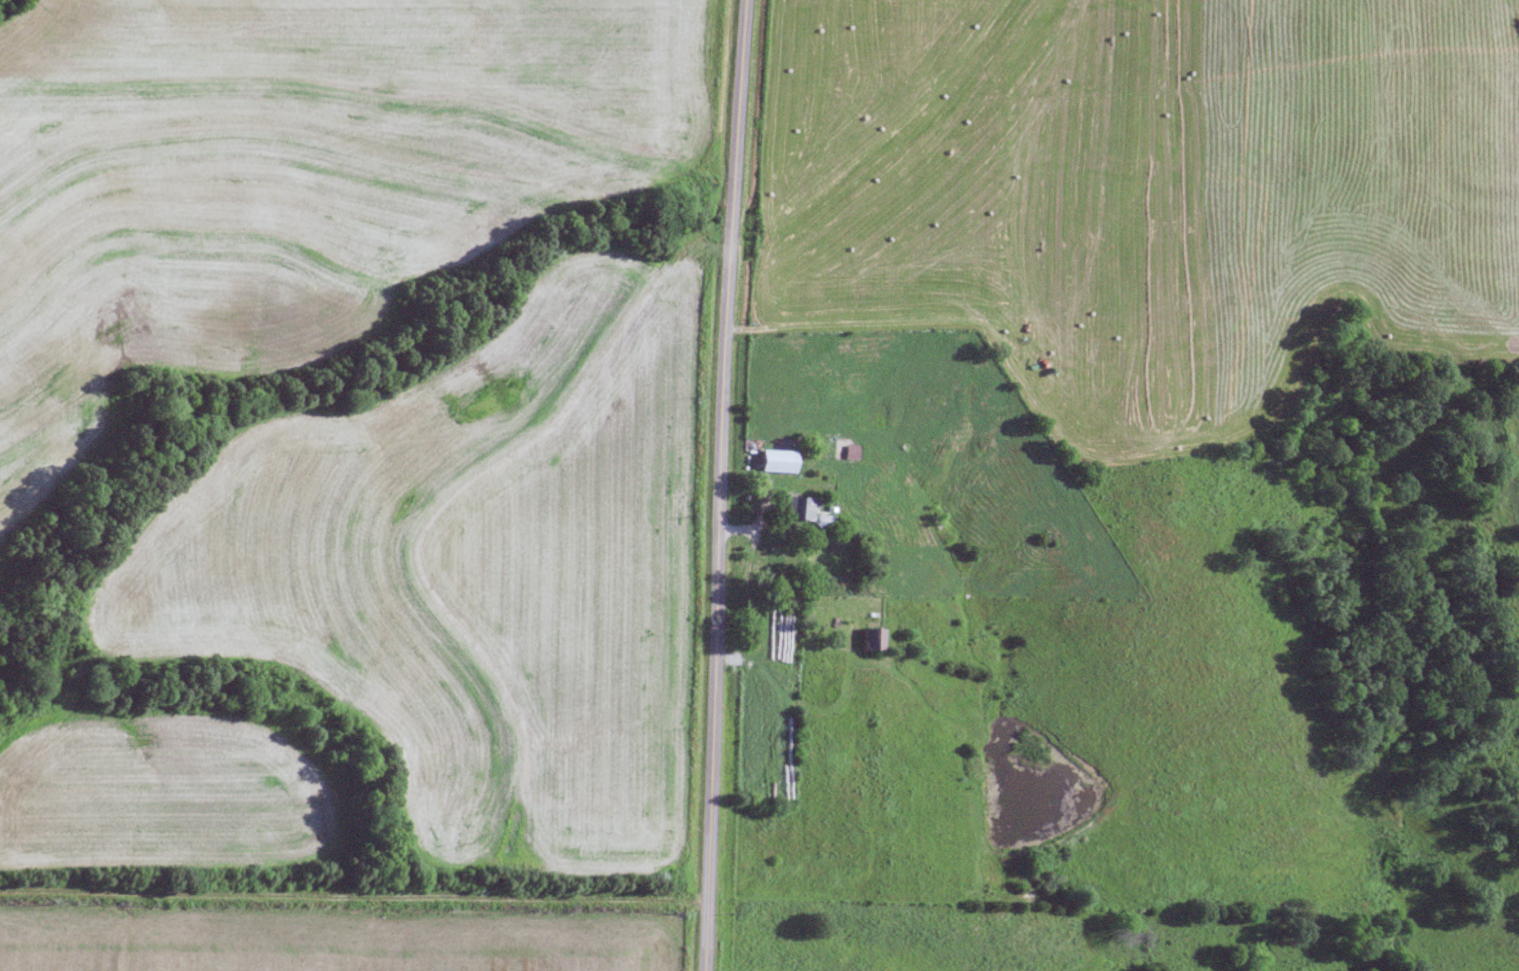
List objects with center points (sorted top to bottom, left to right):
building: (777, 462)
road: (725, 485)
building: (799, 509)
building: (823, 521)
building: (874, 640)
road: (352, 890)

